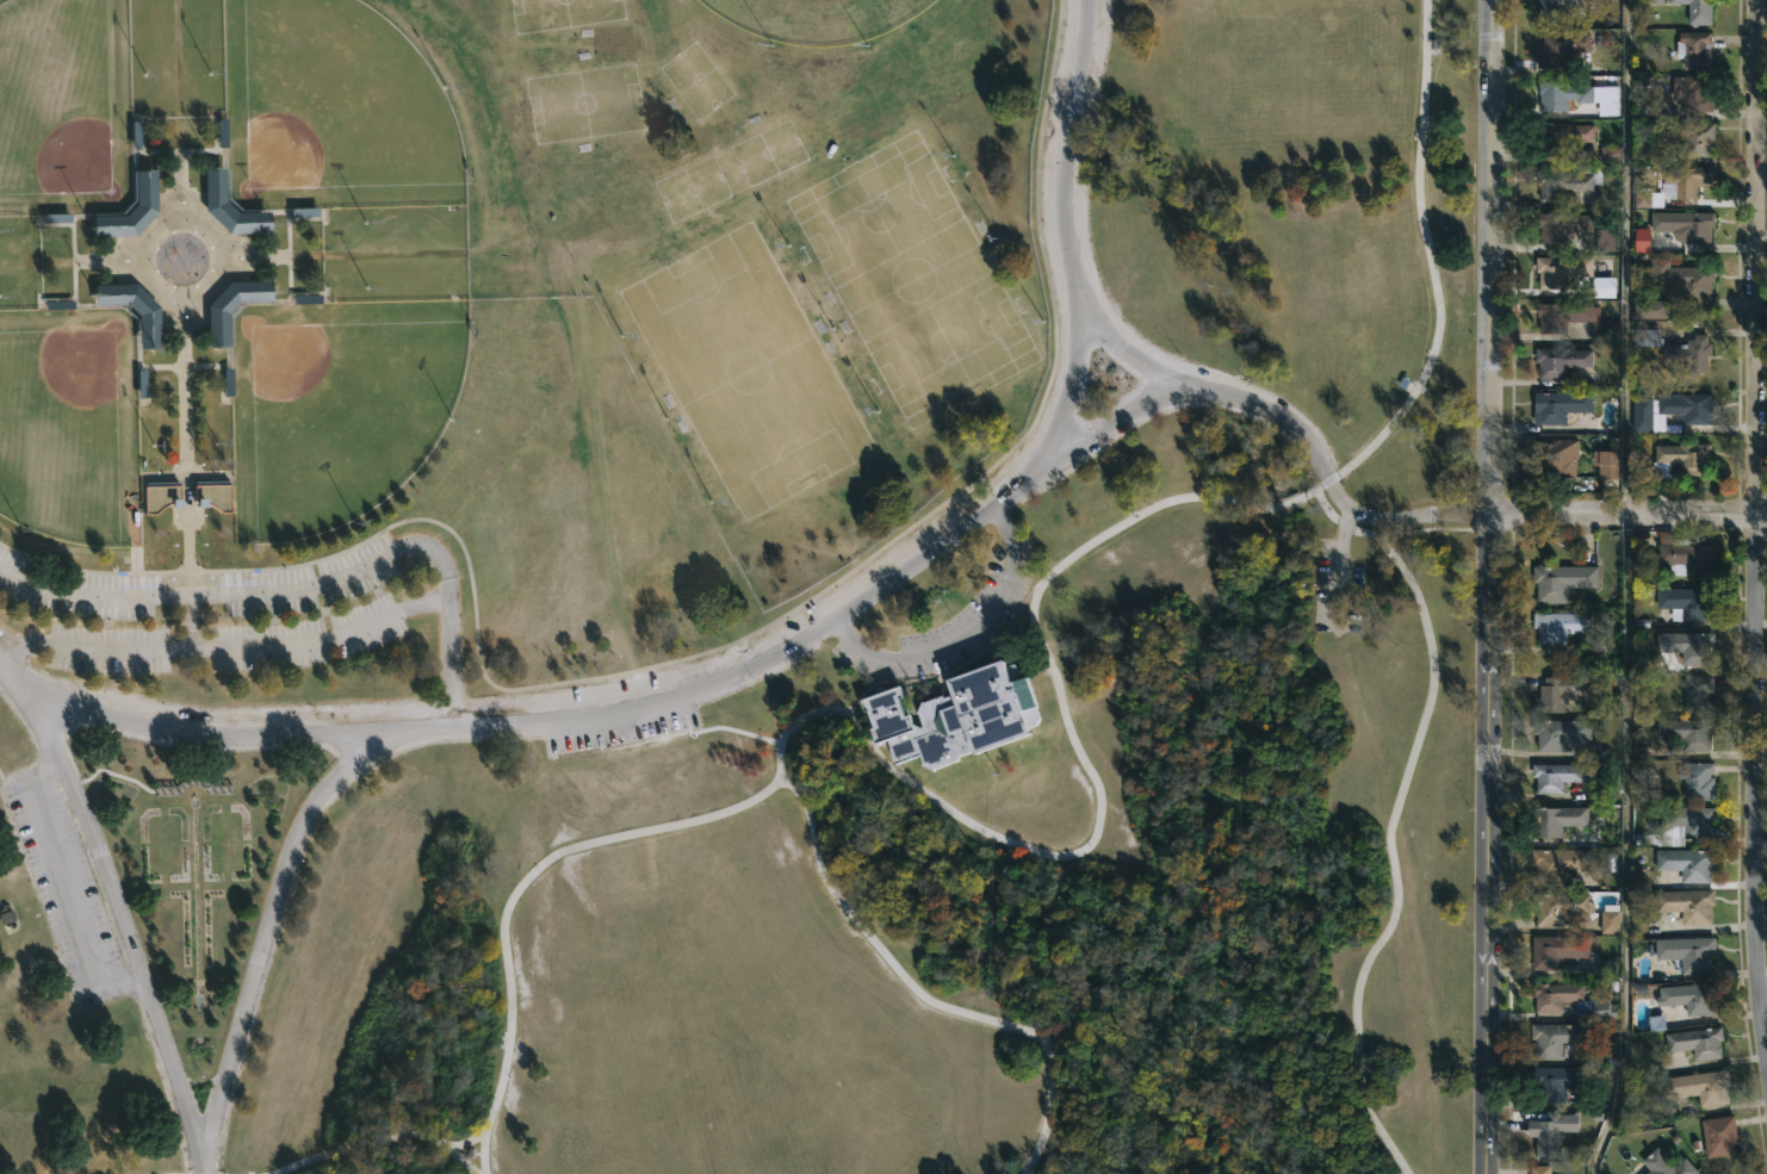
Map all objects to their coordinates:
building: (1552, 8)
building: (1697, 10)
park: (560, 13)
park: (814, 17)
building: (1560, 48)
building: (1693, 49)
park: (695, 82)
building: (1560, 93)
building: (1693, 93)
park: (584, 104)
park: (63, 106)
building: (1647, 107)
park: (330, 110)
building: (1561, 137)
building: (1698, 138)
park: (764, 153)
building: (1610, 155)
building: (1563, 181)
building: (1684, 181)
park: (692, 188)
building: (228, 206)
building: (129, 207)
building: (1684, 224)
building: (1568, 228)
building: (1606, 240)
building: (1642, 240)
building: (1560, 269)
building: (1682, 277)
park: (911, 278)
road: (246, 279)
building: (1602, 287)
building: (230, 304)
building: (130, 306)
building: (1653, 309)
building: (1574, 319)
building: (1645, 337)
road: (1118, 346)
building: (1689, 354)
building: (1562, 360)
park: (745, 369)
park: (336, 405)
building: (1558, 405)
building: (1686, 406)
building: (1644, 416)
park: (69, 424)
road: (1109, 429)
building: (1680, 456)
building: (1556, 459)
building: (1606, 462)
road: (1333, 489)
road: (185, 491)
building: (157, 493)
building: (212, 495)
road: (1148, 508)
road: (1626, 516)
road: (1755, 524)
building: (1681, 555)
road: (1335, 567)
building: (1560, 580)
road: (310, 584)
park: (733, 586)
park: (737, 586)
road: (1486, 586)
parking lot: (1335, 589)
road: (1627, 590)
building: (1686, 603)
building: (1558, 626)
road: (963, 631)
road: (221, 645)
building: (1686, 646)
road: (695, 653)
road: (775, 657)
building: (1555, 692)
building: (1698, 694)
road: (851, 701)
building: (953, 716)
building: (1686, 732)
building: (1557, 733)
building: (1555, 776)
road: (1, 781)
building: (1697, 781)
road: (7, 812)
road: (1391, 816)
building: (1556, 820)
building: (1680, 826)
building: (1686, 863)
building: (1558, 864)
parking lot: (62, 878)
building: (1686, 905)
building: (1561, 908)
road: (504, 917)
building: (1608, 919)
road: (267, 927)
road: (125, 934)
building: (1558, 951)
building: (1687, 954)
road: (923, 998)
building: (1688, 998)
building: (1591, 1002)
building: (1656, 1023)
building: (1556, 1039)
building: (1695, 1043)
building: (1556, 1083)
building: (1698, 1088)
building: (1546, 1133)
building: (1719, 1136)
road: (484, 1148)
road: (461, 1159)
building: (1664, 1164)
building: (1539, 1169)
road: (205, 1172)

